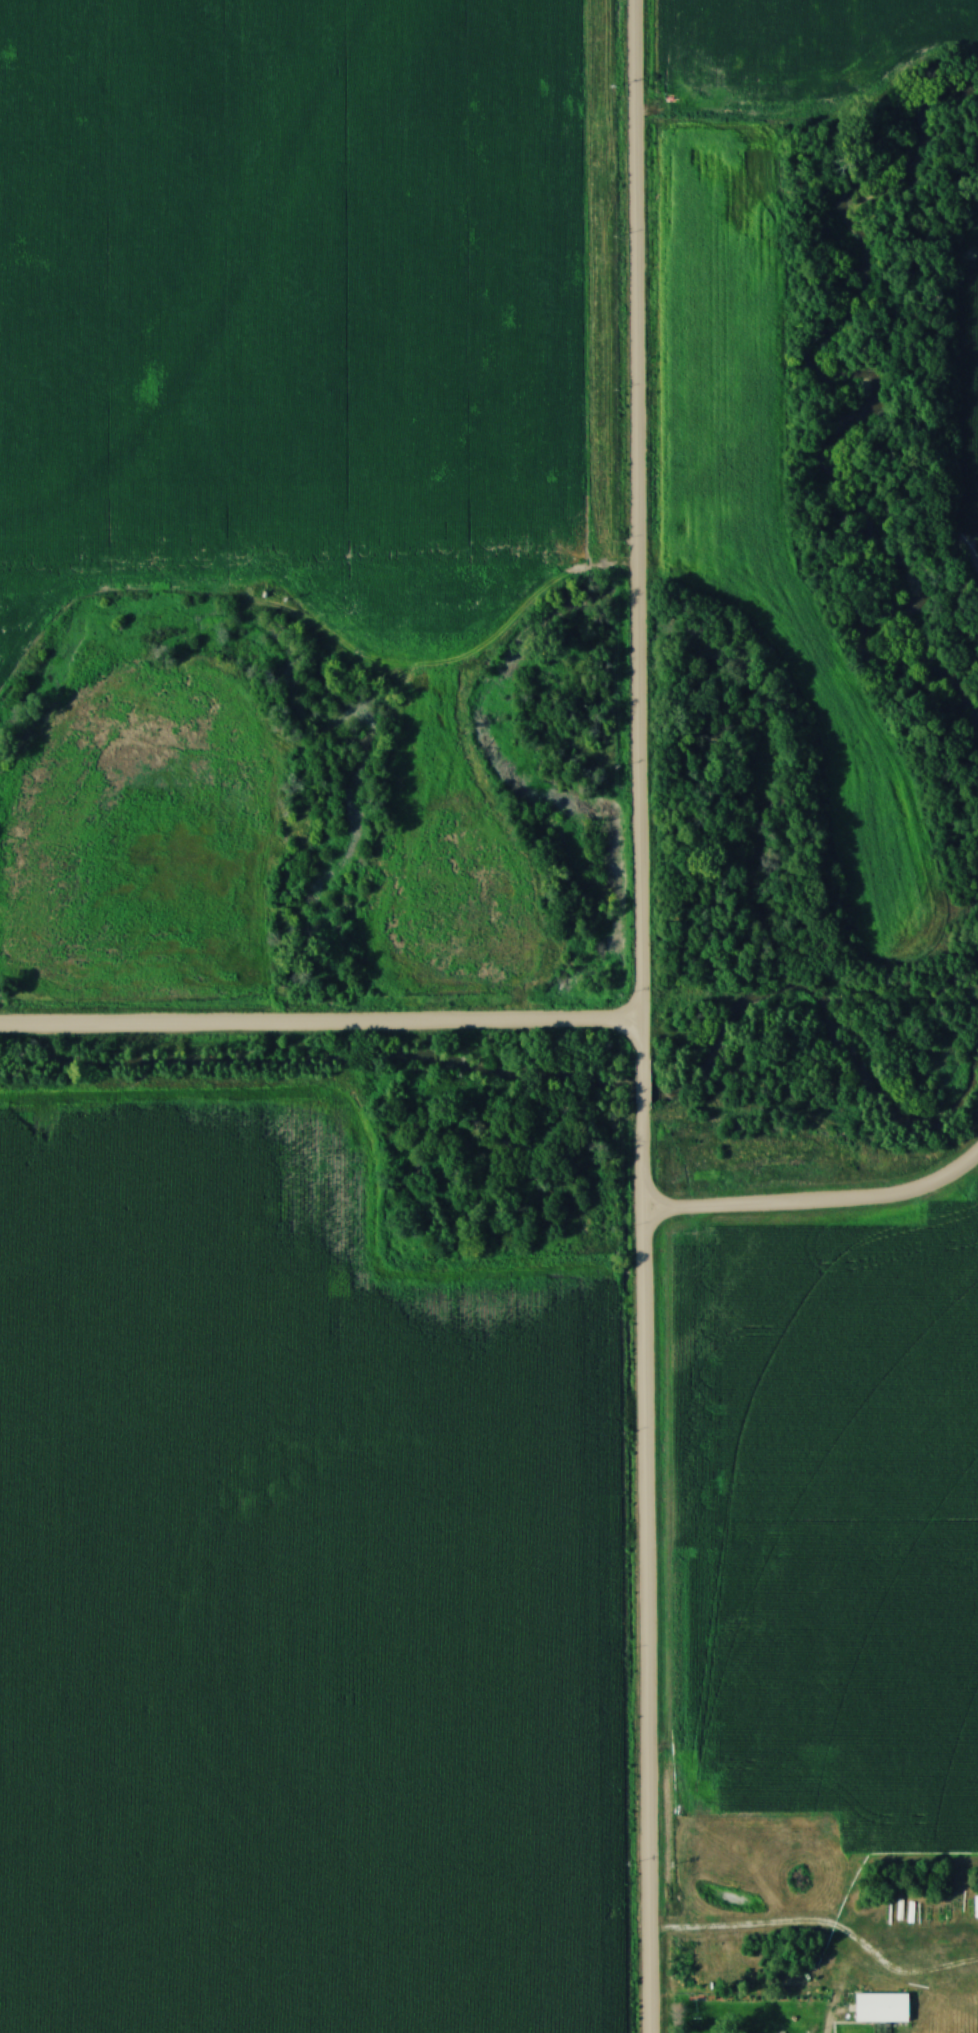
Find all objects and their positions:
river: (862, 411)
road: (635, 534)
road: (320, 1022)
river: (563, 1076)
road: (640, 1084)
road: (817, 1203)
road: (643, 1566)
building: (882, 2009)

